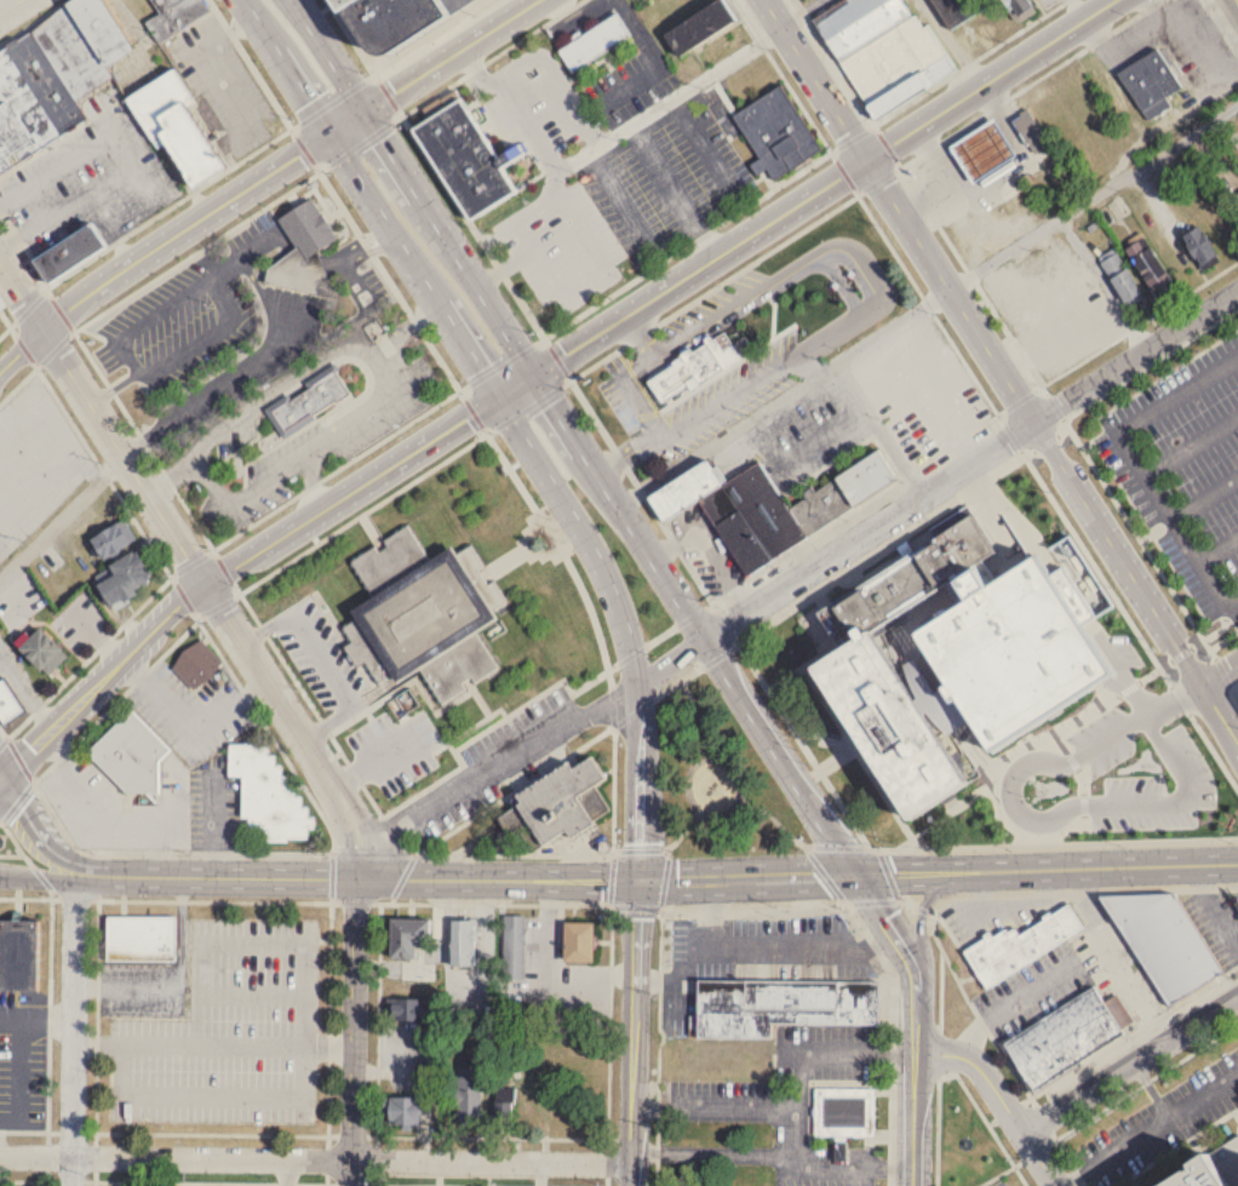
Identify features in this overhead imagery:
road: (1237, 0)
road: (10, 6)
building: (1019, 8)
building: (958, 10)
building: (176, 12)
building: (392, 19)
building: (104, 27)
building: (698, 27)
building: (594, 42)
building: (70, 51)
building: (883, 51)
road: (707, 73)
road: (991, 79)
building: (1153, 86)
building: (30, 101)
traffic signals: (367, 114)
building: (182, 122)
building: (1030, 130)
building: (775, 132)
traffic signals: (331, 137)
road: (540, 145)
building: (979, 149)
building: (464, 156)
traffic signals: (867, 159)
road: (125, 161)
road: (843, 170)
road: (666, 171)
road: (268, 174)
road: (558, 181)
road: (413, 187)
road: (369, 197)
road: (1094, 199)
building: (306, 225)
road: (586, 229)
road: (707, 239)
road: (847, 242)
building: (1199, 248)
building: (70, 251)
building: (1146, 264)
road: (503, 265)
road: (700, 267)
building: (1120, 279)
road: (1107, 283)
building: (1031, 285)
parking lot: (188, 320)
road: (412, 325)
road: (642, 332)
road: (1059, 334)
road: (545, 339)
road: (985, 344)
road: (556, 357)
road: (1136, 357)
road: (501, 362)
road: (809, 363)
building: (693, 367)
traffic signals: (533, 373)
road: (568, 376)
road: (402, 378)
road: (516, 384)
traffic signals: (499, 395)
road: (785, 395)
building: (308, 402)
road: (527, 405)
road: (882, 429)
road: (820, 434)
road: (1191, 443)
road: (627, 453)
road: (1136, 460)
road: (172, 475)
parking lot: (1185, 480)
road: (309, 481)
road: (1204, 494)
building: (769, 505)
road: (62, 517)
road: (583, 533)
building: (110, 540)
road: (218, 544)
road: (1219, 549)
road: (234, 565)
building: (121, 580)
road: (248, 585)
building: (422, 615)
road: (697, 623)
building: (986, 624)
road: (692, 644)
parking lot: (317, 649)
building: (40, 653)
road: (323, 657)
building: (195, 665)
road: (1222, 680)
road: (275, 693)
building: (1237, 695)
road: (1176, 701)
building: (7, 707)
road: (1222, 716)
road: (785, 717)
building: (889, 721)
building: (130, 756)
road: (372, 761)
road: (1, 774)
traffic signals: (4, 778)
road: (1, 779)
road: (642, 784)
building: (265, 797)
road: (18, 801)
building: (557, 804)
road: (1055, 809)
road: (113, 817)
road: (1059, 842)
road: (59, 854)
road: (1049, 865)
traffic signals: (861, 873)
traffic signals: (361, 878)
road: (395, 878)
road: (750, 880)
road: (75, 881)
traffic signals: (640, 884)
road: (50, 895)
road: (526, 901)
road: (921, 912)
building: (139, 935)
building: (413, 935)
building: (468, 941)
building: (585, 941)
building: (1163, 941)
road: (217, 943)
building: (1021, 944)
building: (516, 946)
road: (770, 946)
building: (23, 953)
road: (552, 966)
road: (678, 975)
road: (124, 984)
parking lot: (142, 987)
building: (413, 992)
road: (1011, 1001)
building: (778, 1004)
road: (916, 1022)
parking lot: (228, 1030)
road: (74, 1032)
road: (636, 1035)
building: (1066, 1036)
road: (859, 1049)
road: (1128, 1058)
road: (1125, 1092)
road: (214, 1094)
road: (1204, 1094)
building: (468, 1095)
road: (998, 1099)
road: (798, 1106)
road: (716, 1108)
building: (406, 1110)
building: (506, 1111)
building: (842, 1115)
road: (1145, 1131)
road: (327, 1133)
road: (585, 1136)
road: (716, 1151)
road: (96, 1158)
road: (316, 1158)
road: (856, 1165)
road: (286, 1171)
building: (1187, 1173)
road: (235, 1181)

